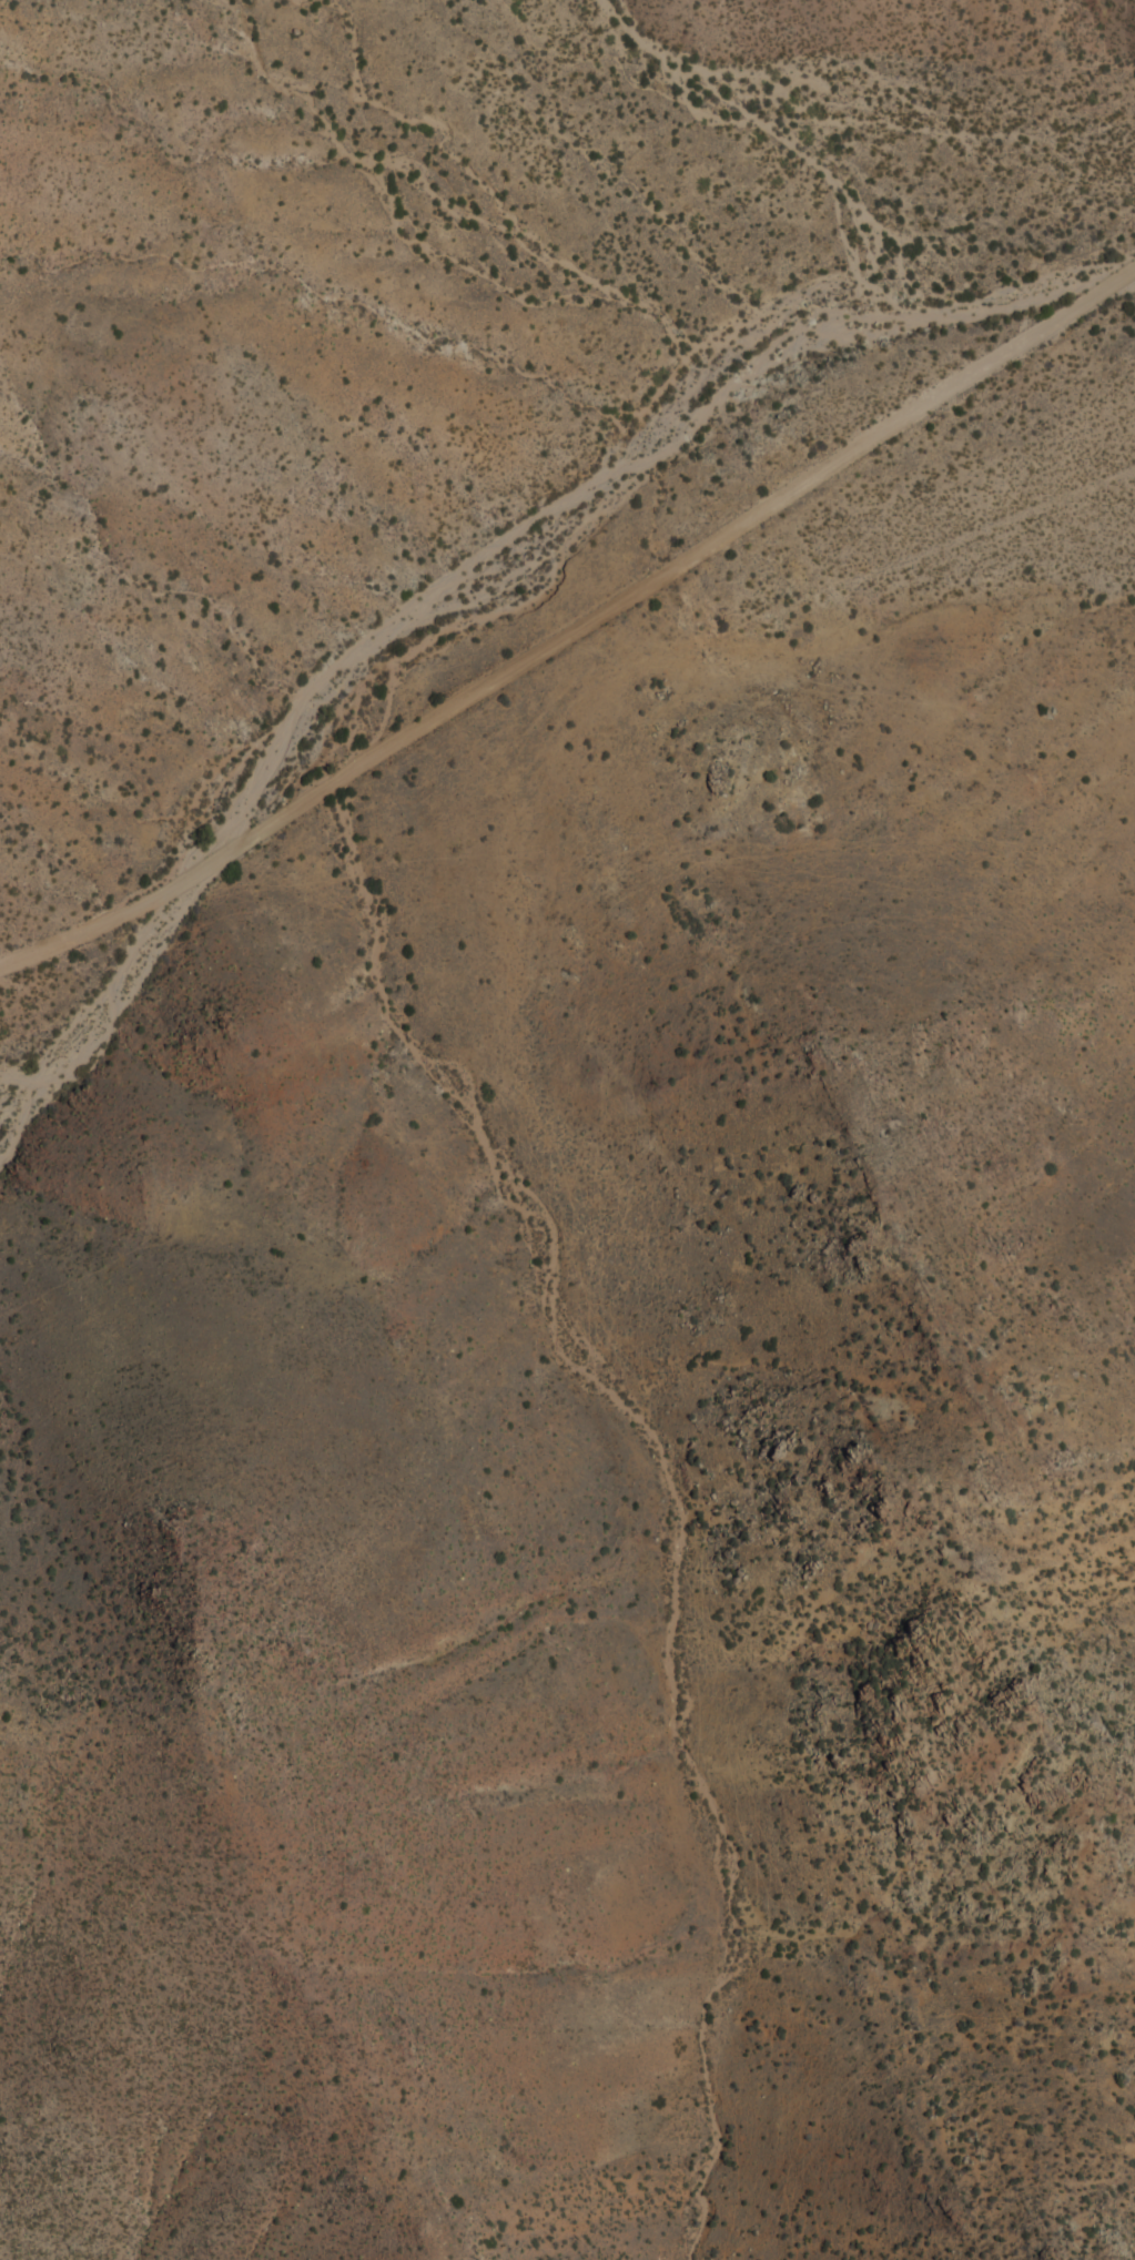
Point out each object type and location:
road: (572, 631)

